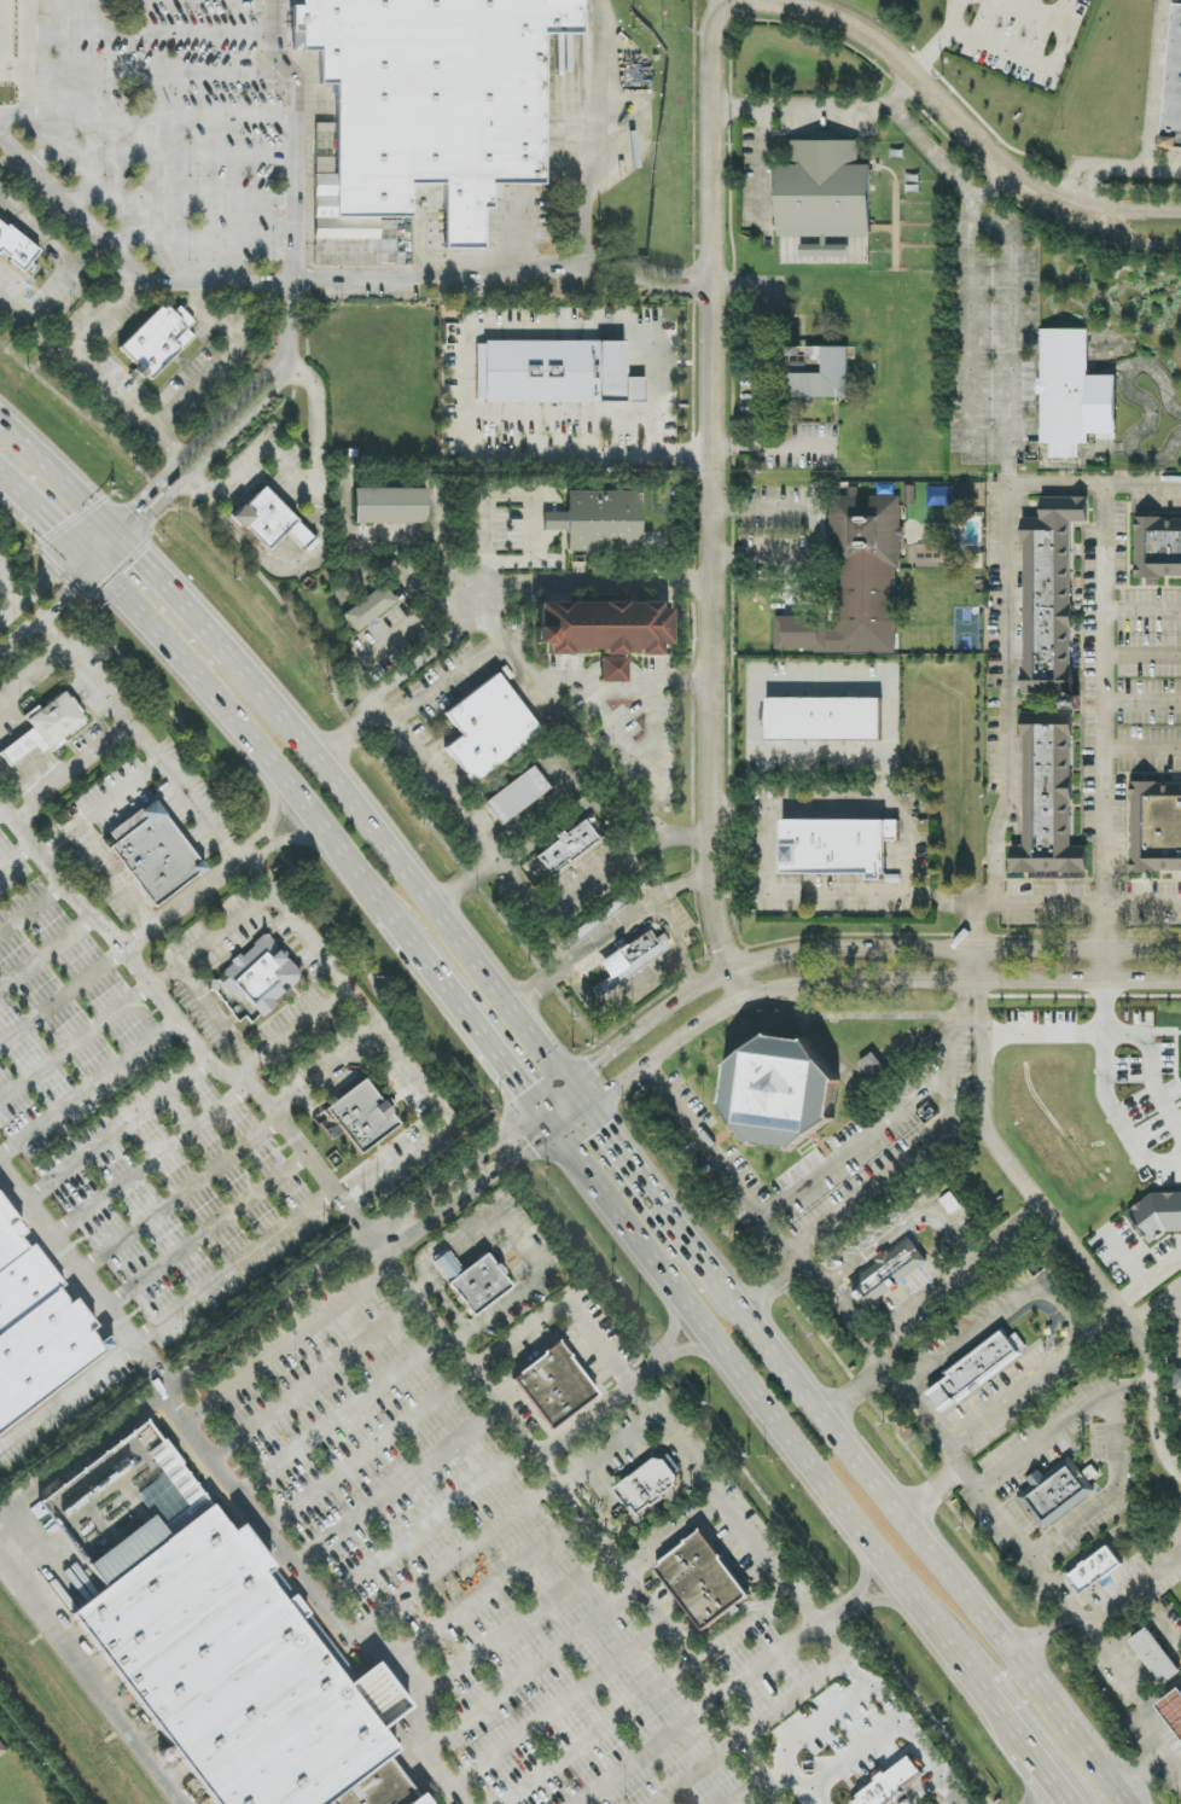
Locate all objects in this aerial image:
road: (714, 2)
road: (1031, 21)
road: (151, 34)
road: (1, 36)
road: (944, 41)
road: (28, 58)
road: (285, 59)
road: (1025, 66)
road: (14, 72)
road: (161, 74)
road: (1156, 85)
building: (1173, 88)
road: (803, 104)
building: (424, 115)
road: (270, 117)
road: (924, 138)
road: (161, 156)
road: (1116, 168)
road: (1164, 170)
road: (1080, 190)
building: (824, 193)
road: (178, 197)
road: (587, 200)
road: (1074, 203)
road: (69, 204)
road: (714, 234)
road: (199, 239)
road: (50, 243)
building: (14, 249)
road: (436, 277)
road: (54, 289)
road: (17, 302)
road: (101, 314)
road: (1007, 318)
building: (157, 341)
road: (970, 341)
road: (41, 342)
road: (761, 348)
road: (223, 355)
road: (461, 363)
building: (555, 373)
building: (820, 373)
building: (1074, 398)
road: (220, 417)
road: (769, 447)
road: (56, 478)
road: (303, 490)
road: (138, 504)
traffic signals: (139, 504)
building: (390, 506)
road: (41, 516)
road: (149, 517)
building: (270, 522)
road: (344, 522)
building: (554, 522)
building: (604, 522)
traffic signals: (52, 526)
road: (816, 530)
road: (97, 543)
building: (1158, 548)
traffic signals: (139, 560)
road: (89, 561)
road: (283, 574)
road: (1106, 581)
building: (855, 582)
road: (599, 586)
road: (40, 588)
road: (11, 592)
traffic signals: (70, 593)
road: (169, 594)
building: (1051, 598)
building: (370, 607)
road: (1144, 612)
building: (604, 632)
road: (502, 640)
road: (425, 654)
road: (1144, 657)
road: (365, 663)
road: (31, 675)
road: (448, 676)
road: (781, 681)
road: (1010, 687)
road: (1144, 703)
road: (383, 714)
building: (825, 718)
road: (6, 729)
building: (43, 729)
building: (487, 732)
road: (245, 735)
road: (343, 737)
road: (136, 741)
road: (18, 749)
road: (33, 773)
road: (610, 775)
road: (54, 780)
road: (449, 786)
building: (517, 797)
road: (543, 802)
building: (1048, 804)
road: (739, 805)
road: (97, 808)
road: (799, 811)
road: (1105, 811)
building: (1158, 830)
building: (837, 848)
building: (564, 850)
building: (152, 854)
road: (17, 857)
road: (400, 868)
road: (114, 877)
road: (459, 886)
road: (681, 886)
road: (68, 891)
road: (568, 891)
road: (1087, 904)
building: (593, 921)
road: (153, 927)
road: (610, 932)
road: (214, 938)
road: (551, 939)
road: (679, 944)
road: (834, 949)
building: (630, 958)
road: (972, 965)
road: (1105, 965)
building: (257, 976)
road: (844, 982)
road: (537, 987)
road: (961, 997)
road: (982, 999)
road: (624, 1006)
road: (460, 1009)
road: (216, 1012)
road: (971, 1014)
road: (863, 1016)
road: (291, 1031)
road: (1043, 1034)
road: (388, 1041)
road: (955, 1046)
traffic signals: (593, 1066)
building: (873, 1067)
road: (324, 1069)
road: (1148, 1069)
road: (254, 1088)
building: (784, 1090)
traffic signals: (523, 1092)
road: (1105, 1094)
road: (576, 1098)
building: (361, 1117)
road: (545, 1121)
traffic signals: (601, 1130)
road: (116, 1133)
road: (857, 1146)
traffic signals: (530, 1150)
road: (1002, 1158)
road: (885, 1170)
road: (450, 1174)
road: (747, 1193)
road: (465, 1195)
road: (662, 1209)
building: (1158, 1215)
road: (872, 1249)
road: (232, 1269)
building: (886, 1274)
road: (944, 1279)
road: (81, 1280)
building: (473, 1281)
road: (1148, 1282)
road: (1032, 1292)
road: (444, 1305)
road: (1156, 1307)
road: (1118, 1308)
road: (262, 1310)
road: (843, 1315)
road: (1096, 1319)
road: (674, 1321)
building: (36, 1327)
road: (289, 1343)
road: (692, 1351)
road: (607, 1355)
building: (976, 1369)
building: (1176, 1379)
building: (553, 1386)
road: (66, 1399)
road: (598, 1410)
road: (767, 1412)
road: (931, 1413)
road: (1159, 1430)
road: (1042, 1442)
road: (81, 1451)
road: (607, 1453)
road: (547, 1471)
building: (648, 1486)
building: (1055, 1491)
road: (932, 1494)
road: (1110, 1495)
road: (995, 1513)
road: (732, 1521)
road: (424, 1523)
road: (1110, 1536)
road: (932, 1555)
building: (1094, 1569)
building: (702, 1581)
road: (1049, 1584)
road: (1133, 1590)
road: (322, 1601)
road: (519, 1628)
road: (1042, 1635)
building: (1156, 1657)
building: (238, 1665)
road: (535, 1669)
road: (92, 1680)
road: (734, 1688)
road: (558, 1700)
road: (1139, 1706)
building: (1173, 1711)
road: (890, 1717)
road: (1001, 1718)
road: (799, 1736)
road: (751, 1751)
road: (1174, 1753)
road: (778, 1773)
road: (1043, 1775)
building: (892, 1783)
road: (749, 1791)
road: (921, 1792)
building: (426, 1798)
road: (1049, 1798)

